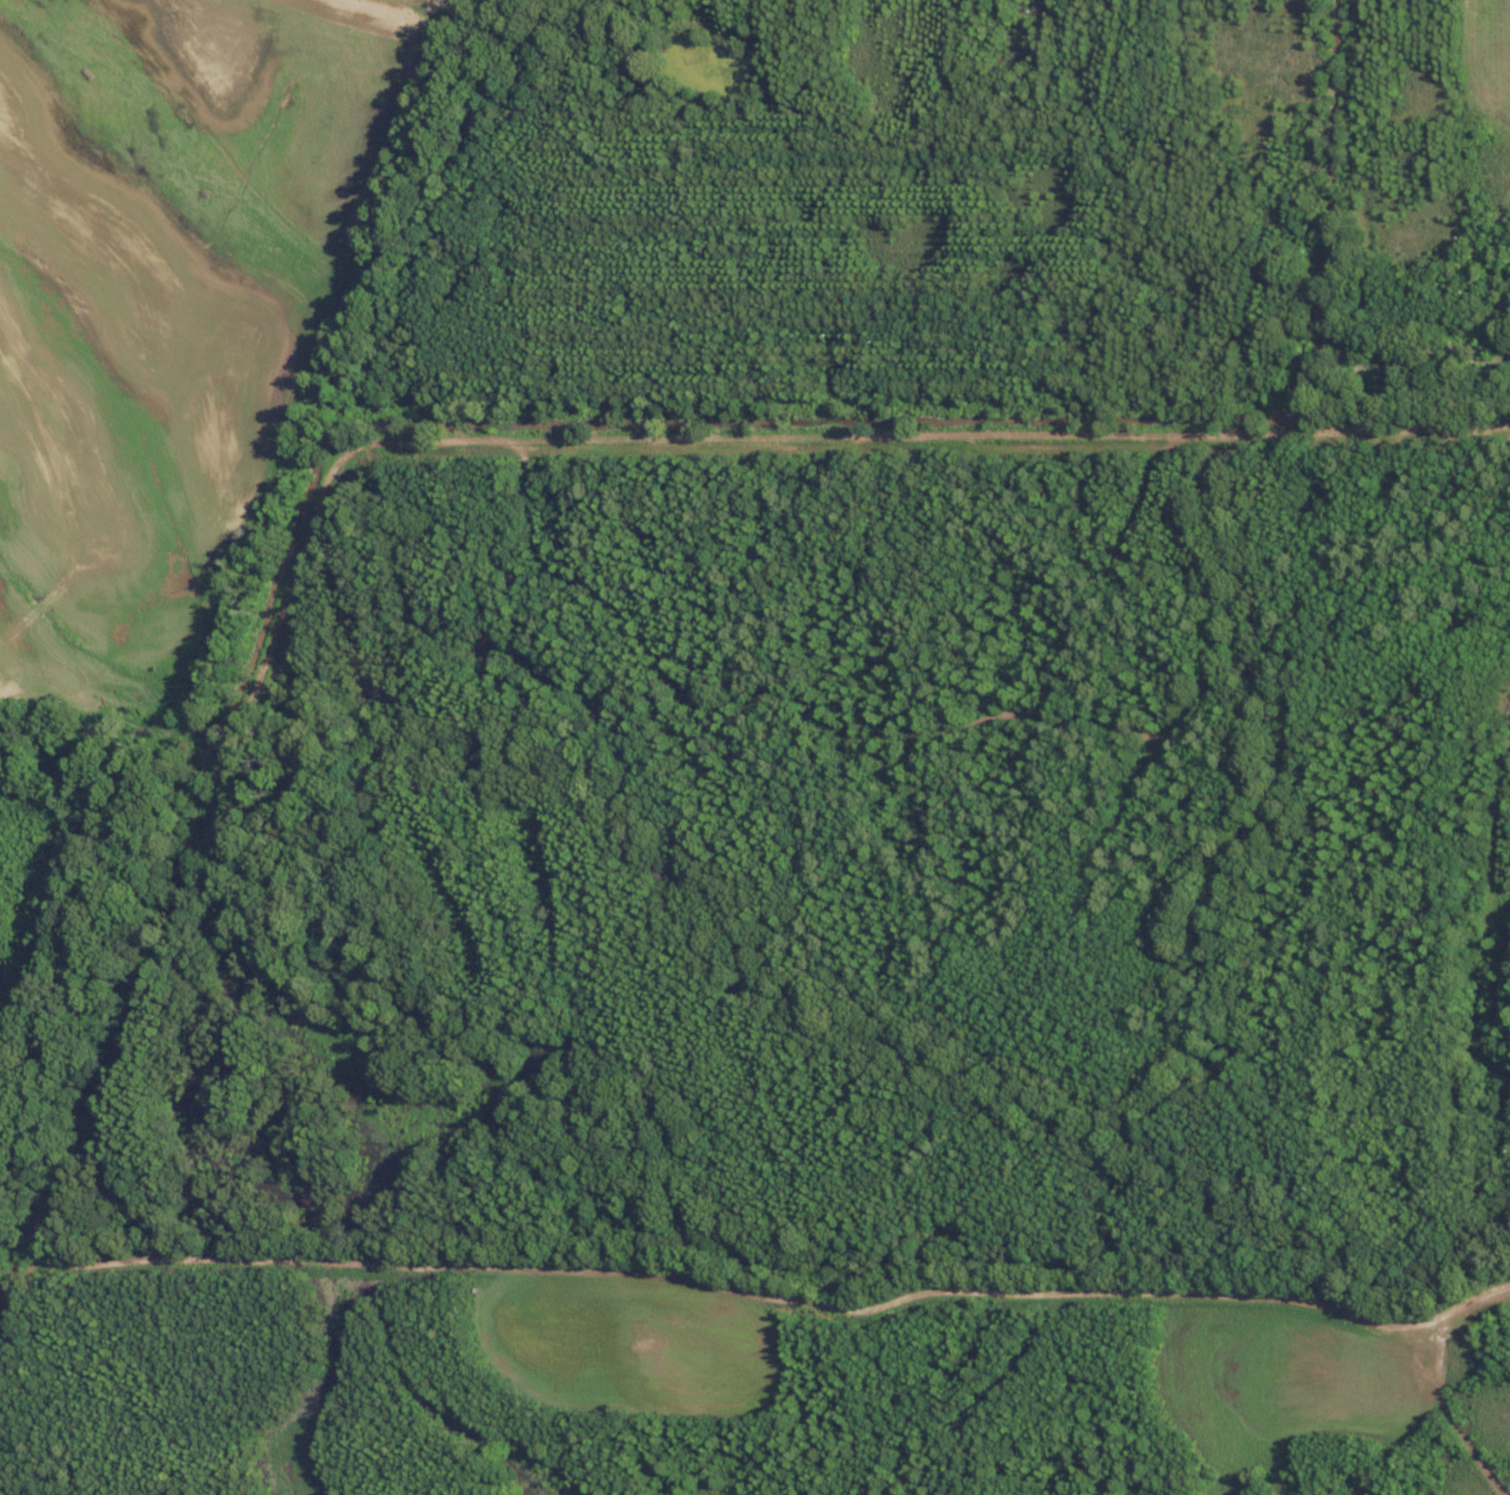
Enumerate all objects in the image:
road: (573, 406)

